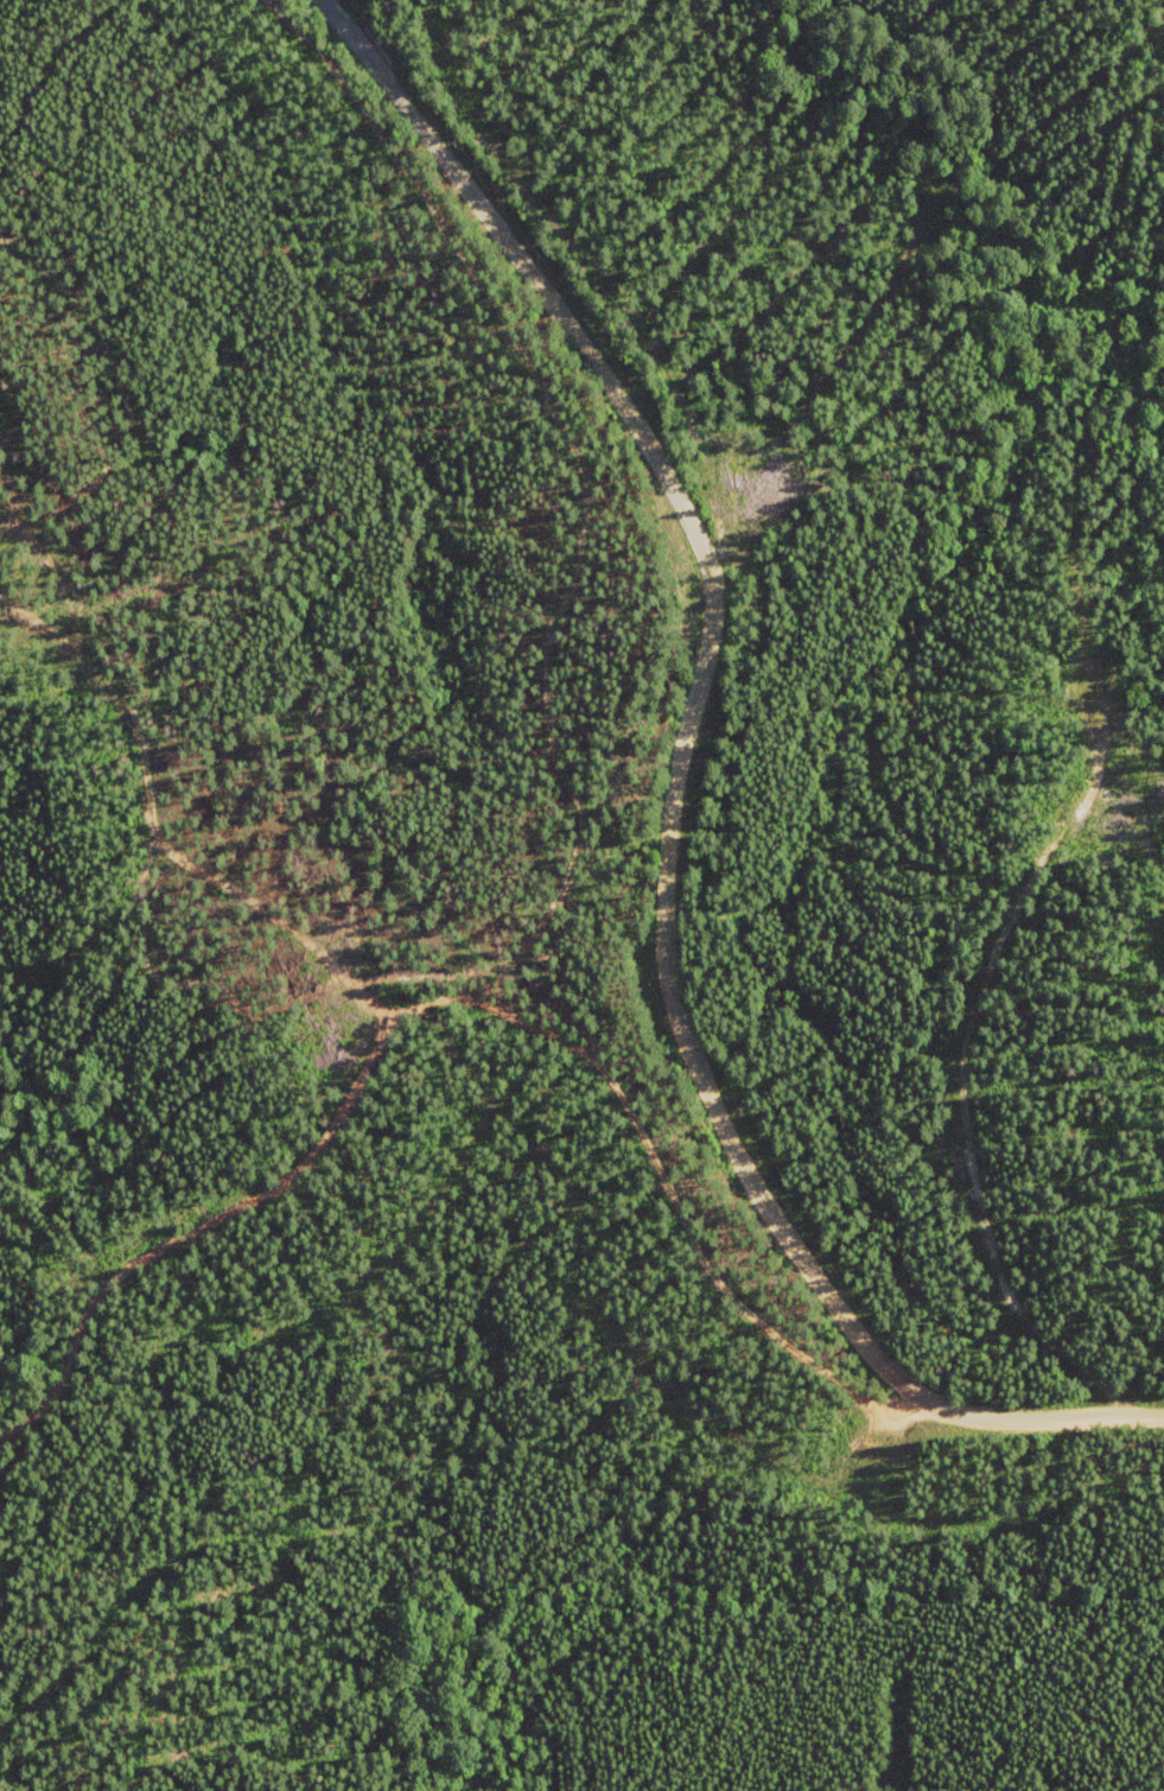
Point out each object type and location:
road: (706, 768)

